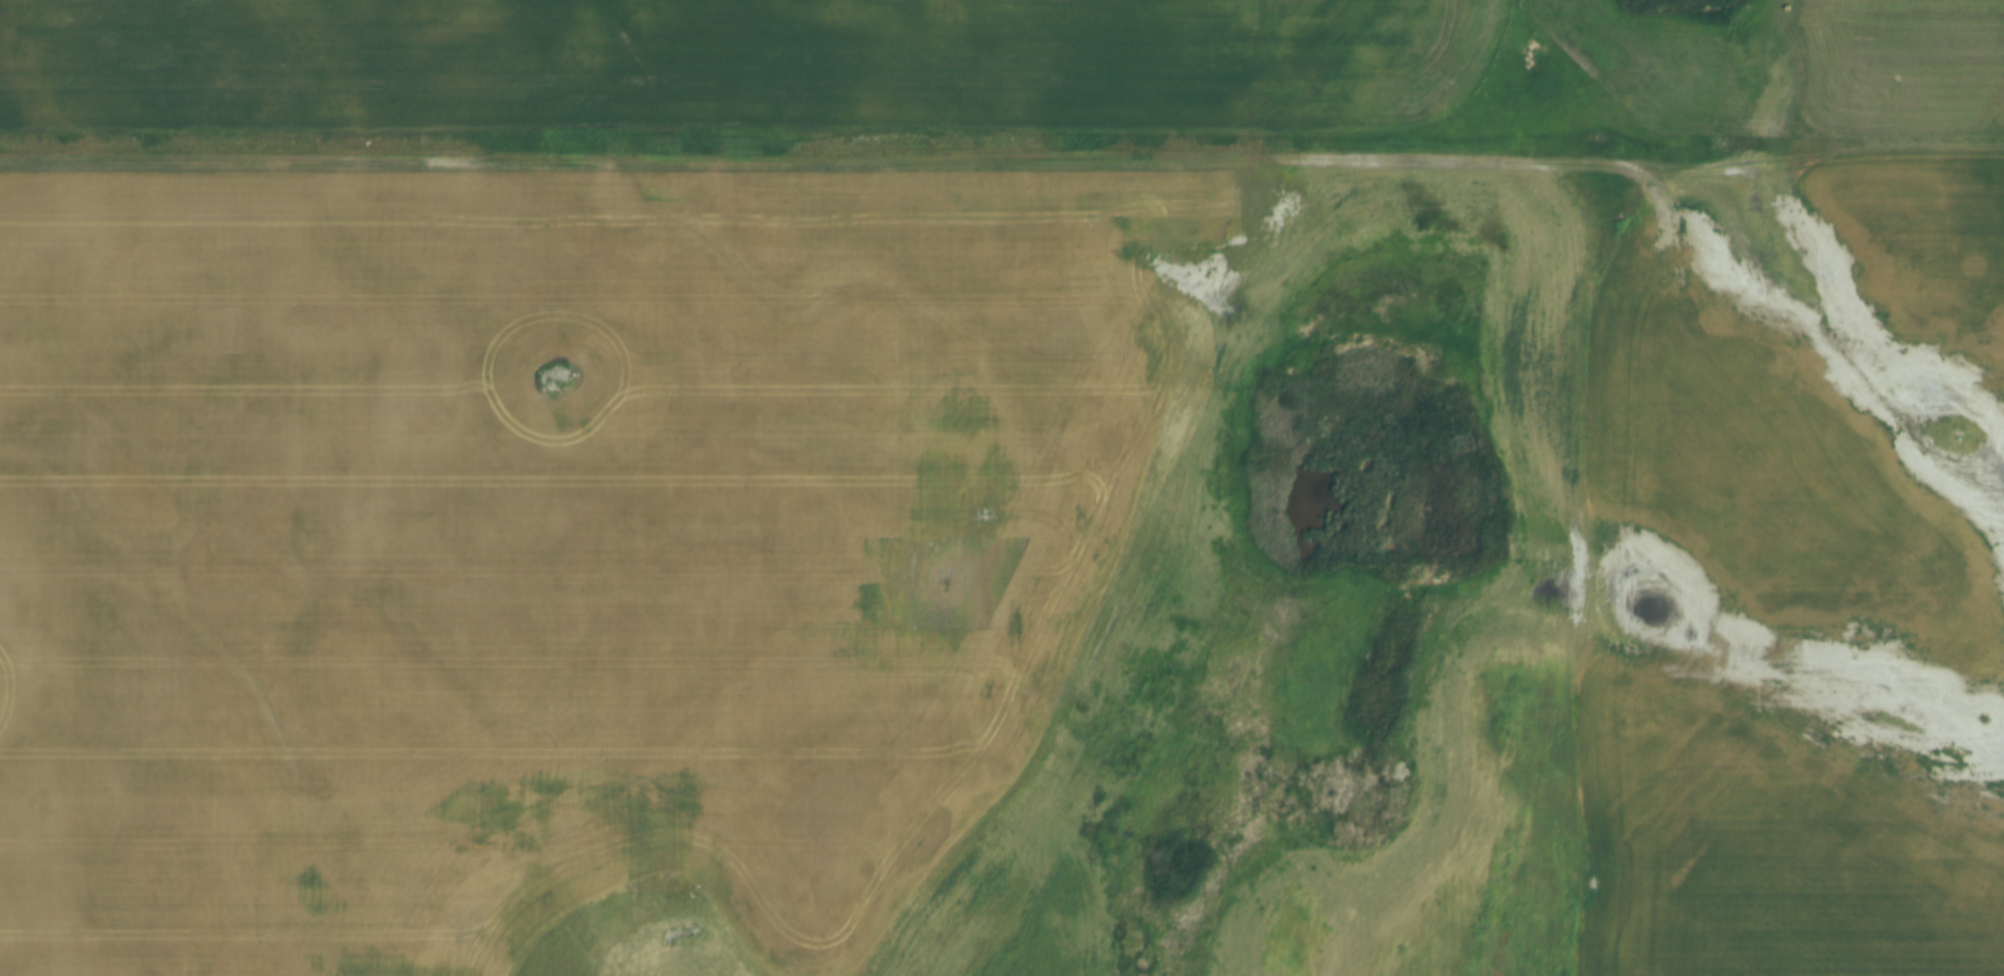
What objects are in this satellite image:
road: (1002, 154)

